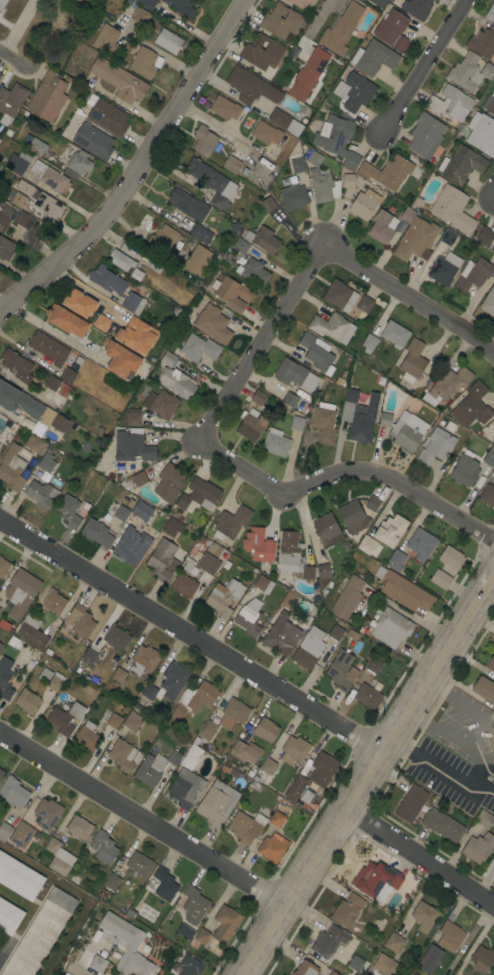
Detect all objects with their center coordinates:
building: (378, 2)
building: (71, 3)
building: (147, 3)
building: (301, 3)
building: (2, 4)
building: (181, 6)
building: (416, 8)
building: (490, 12)
building: (140, 15)
building: (281, 21)
building: (56, 26)
road: (18, 27)
building: (341, 29)
building: (392, 30)
road: (306, 36)
building: (106, 41)
building: (168, 41)
building: (483, 42)
building: (261, 51)
building: (374, 57)
road: (15, 61)
building: (142, 61)
building: (0, 70)
road: (420, 70)
building: (310, 71)
building: (487, 71)
building: (465, 72)
building: (0, 73)
building: (119, 80)
building: (251, 87)
building: (356, 91)
building: (48, 96)
building: (10, 102)
building: (450, 103)
building: (489, 103)
building: (225, 108)
building: (106, 115)
building: (285, 122)
building: (8, 133)
building: (266, 133)
building: (481, 133)
building: (425, 135)
building: (337, 139)
building: (93, 141)
building: (206, 141)
building: (33, 144)
building: (16, 162)
building: (79, 162)
road: (131, 163)
building: (461, 164)
building: (232, 165)
building: (297, 165)
building: (387, 172)
building: (50, 177)
building: (321, 180)
building: (348, 180)
building: (287, 181)
building: (211, 182)
building: (294, 198)
road: (493, 198)
building: (18, 200)
building: (40, 200)
building: (267, 203)
building: (364, 204)
building: (189, 205)
building: (452, 208)
building: (407, 214)
building: (4, 217)
building: (22, 219)
building: (147, 221)
building: (382, 227)
building: (201, 233)
building: (485, 236)
building: (448, 237)
building: (163, 238)
building: (262, 239)
building: (416, 240)
building: (240, 246)
building: (492, 248)
building: (6, 249)
building: (195, 258)
building: (121, 260)
building: (442, 271)
building: (254, 272)
building: (473, 274)
building: (107, 280)
building: (195, 287)
road: (85, 289)
building: (233, 293)
building: (336, 294)
road: (410, 297)
building: (488, 302)
building: (79, 303)
building: (133, 303)
building: (364, 304)
building: (66, 321)
building: (209, 321)
building: (100, 322)
building: (329, 326)
road: (49, 327)
building: (395, 334)
building: (136, 335)
road: (258, 342)
building: (369, 343)
building: (48, 348)
building: (199, 348)
building: (317, 353)
building: (120, 359)
building: (168, 359)
building: (412, 361)
building: (17, 365)
building: (295, 374)
building: (68, 375)
building: (176, 382)
building: (52, 383)
building: (449, 383)
building: (258, 398)
building: (290, 399)
building: (18, 402)
building: (161, 404)
building: (470, 404)
building: (359, 415)
building: (131, 417)
building: (385, 419)
road: (20, 420)
building: (324, 422)
building: (60, 423)
building: (296, 423)
building: (250, 425)
building: (407, 430)
building: (493, 441)
building: (35, 444)
building: (275, 444)
building: (132, 446)
building: (436, 446)
building: (489, 456)
building: (46, 463)
building: (11, 468)
building: (465, 469)
building: (492, 469)
road: (342, 476)
building: (139, 479)
building: (55, 482)
building: (169, 483)
building: (41, 494)
building: (199, 494)
building: (487, 495)
building: (130, 502)
building: (372, 504)
building: (68, 510)
building: (141, 511)
building: (121, 513)
building: (353, 517)
building: (231, 522)
building: (170, 527)
building: (327, 530)
building: (390, 530)
building: (97, 532)
building: (201, 539)
building: (366, 544)
building: (421, 544)
building: (131, 545)
building: (261, 547)
building: (289, 552)
building: (451, 558)
building: (162, 560)
building: (396, 560)
building: (228, 562)
building: (208, 563)
building: (3, 566)
building: (192, 570)
building: (308, 573)
building: (324, 574)
building: (441, 579)
building: (261, 583)
building: (184, 585)
building: (402, 590)
building: (20, 593)
building: (224, 597)
building: (347, 597)
building: (289, 600)
building: (52, 601)
building: (0, 610)
building: (249, 617)
building: (80, 621)
building: (390, 627)
building: (32, 632)
building: (335, 632)
road: (190, 633)
building: (351, 634)
building: (281, 635)
building: (116, 637)
building: (1, 645)
building: (308, 649)
building: (89, 655)
building: (143, 660)
building: (374, 664)
building: (491, 664)
building: (342, 671)
building: (117, 676)
building: (5, 678)
building: (50, 679)
building: (173, 680)
building: (484, 689)
building: (149, 691)
building: (368, 693)
building: (193, 700)
building: (26, 701)
road: (459, 704)
building: (233, 713)
building: (65, 718)
building: (113, 720)
building: (132, 721)
building: (265, 729)
building: (208, 730)
building: (87, 736)
road: (454, 743)
building: (295, 750)
building: (245, 751)
building: (493, 753)
building: (122, 755)
building: (191, 756)
building: (493, 762)
building: (268, 766)
building: (154, 767)
road: (439, 768)
road: (472, 771)
building: (1, 773)
road: (365, 775)
building: (312, 776)
building: (186, 788)
building: (13, 792)
building: (217, 803)
building: (411, 803)
building: (47, 814)
building: (279, 815)
road: (143, 817)
building: (483, 818)
building: (442, 824)
building: (246, 827)
building: (79, 828)
building: (4, 831)
building: (21, 835)
building: (103, 847)
building: (272, 847)
building: (478, 848)
road: (420, 855)
building: (59, 857)
building: (138, 864)
building: (19, 877)
building: (375, 879)
building: (112, 881)
building: (164, 884)
building: (194, 905)
building: (347, 910)
building: (9, 917)
building: (424, 917)
building: (225, 923)
building: (40, 934)
building: (95, 934)
building: (202, 936)
building: (450, 936)
building: (329, 940)
building: (394, 942)
building: (129, 946)
building: (429, 959)
building: (482, 959)
building: (98, 964)
building: (355, 964)
building: (384, 965)
building: (189, 966)
building: (305, 968)
road: (72, 972)
building: (332, 973)
building: (414, 974)

